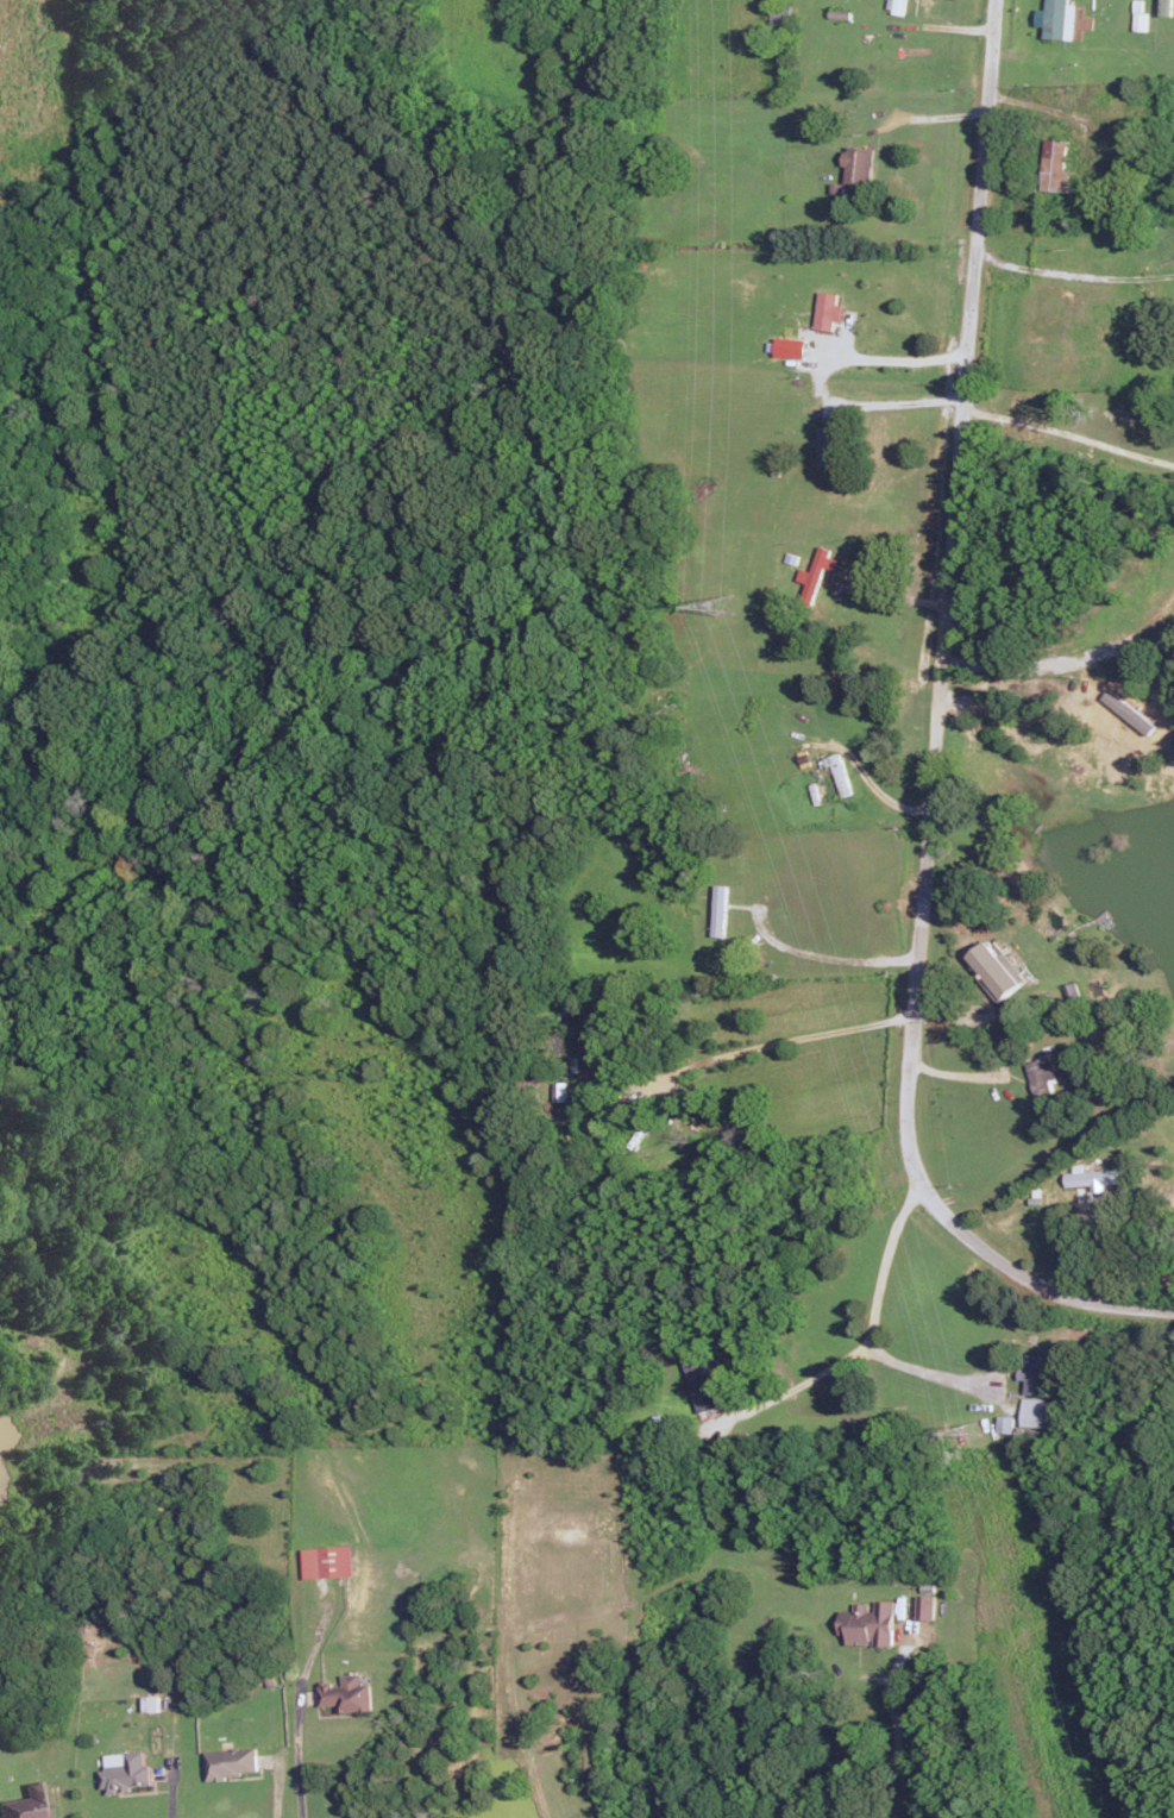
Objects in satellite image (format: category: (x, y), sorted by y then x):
building: (1164, 7)
building: (780, 14)
building: (1138, 15)
building: (1056, 19)
road: (927, 118)
building: (856, 164)
building: (1055, 165)
road: (1072, 275)
building: (827, 309)
building: (789, 346)
road: (817, 376)
road: (1067, 437)
building: (823, 445)
building: (816, 570)
power tower: (720, 606)
road: (1009, 663)
building: (1129, 710)
road: (933, 742)
building: (839, 771)
building: (717, 909)
road: (828, 958)
building: (997, 970)
building: (1071, 991)
road: (779, 1040)
building: (586, 1055)
building: (1041, 1074)
building: (558, 1090)
building: (1092, 1177)
road: (868, 1334)
road: (925, 1368)
building: (1035, 1373)
building: (701, 1381)
building: (1034, 1411)
building: (1005, 1423)
power tower: (969, 1431)
building: (328, 1561)
building: (927, 1606)
building: (869, 1623)
building: (347, 1693)
building: (150, 1703)
road: (903, 1734)
building: (231, 1761)
road: (299, 1766)
building: (125, 1770)
road: (169, 1795)
building: (26, 1803)
road: (272, 1805)

